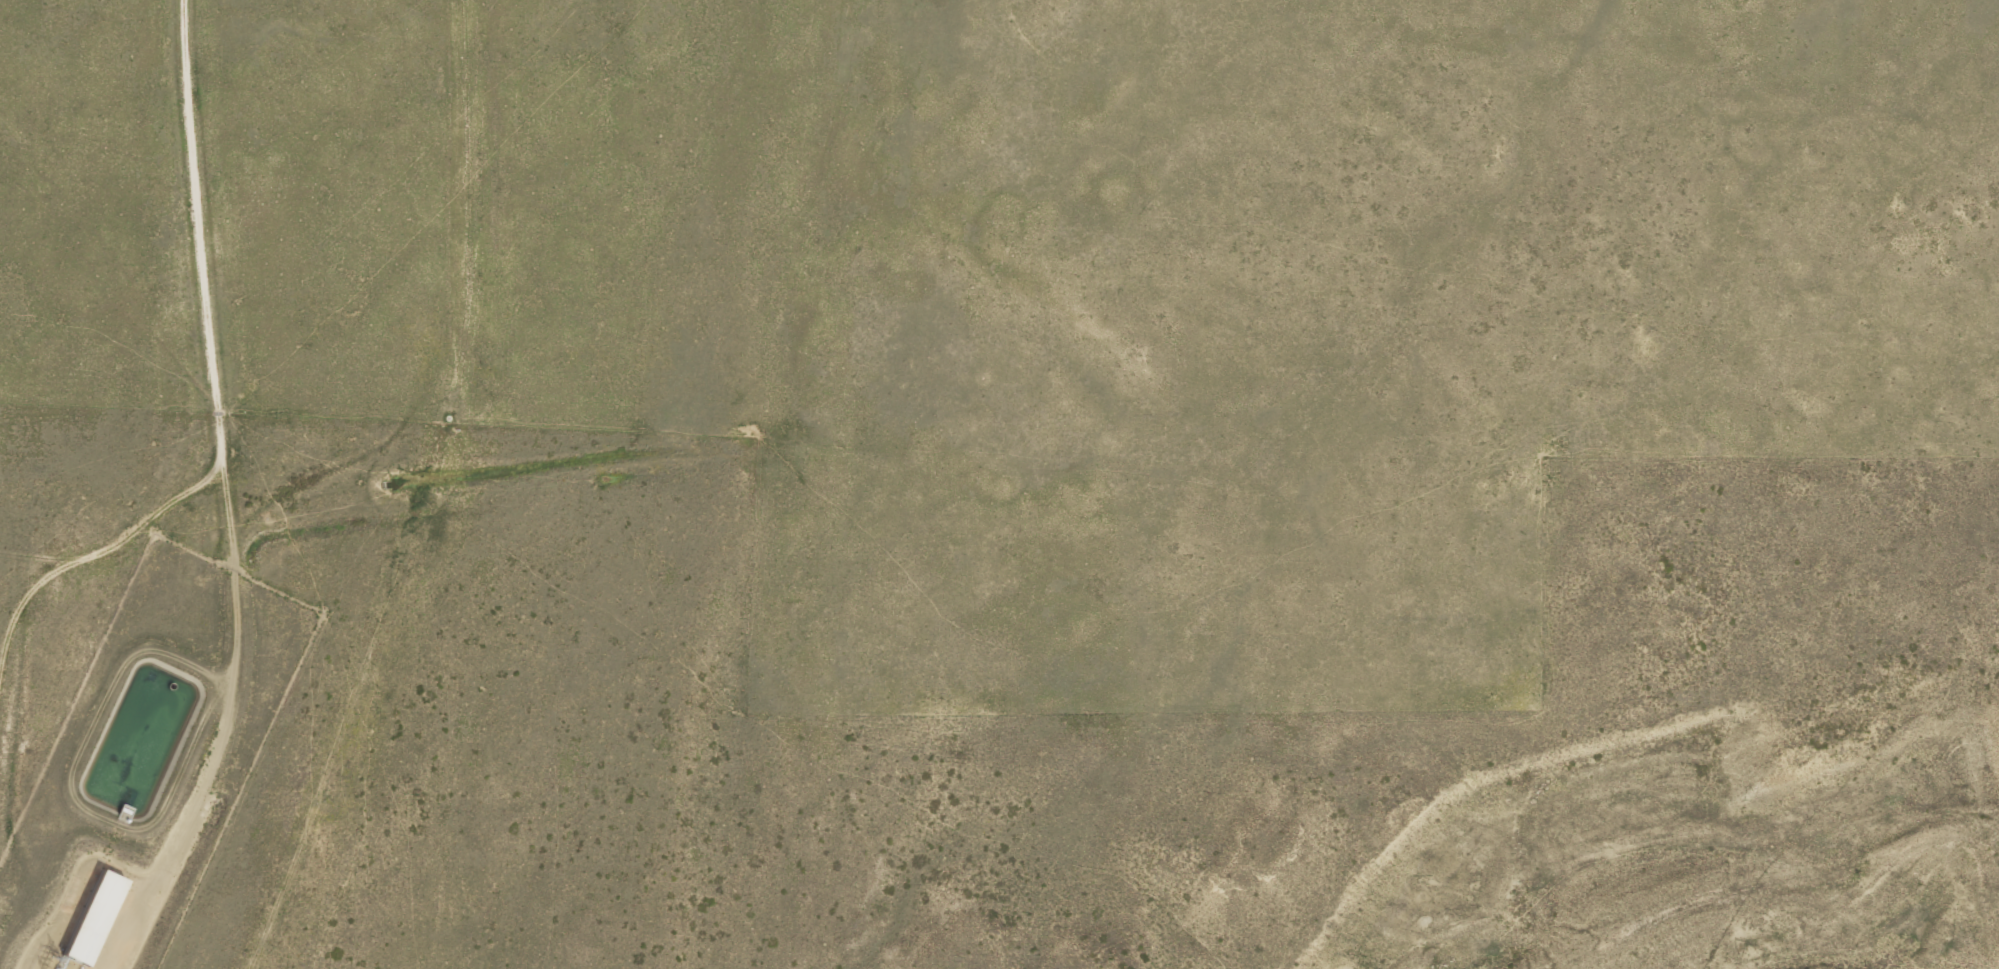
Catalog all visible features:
road: (216, 419)
building: (94, 916)
power substation: (42, 960)
road: (0, 965)

